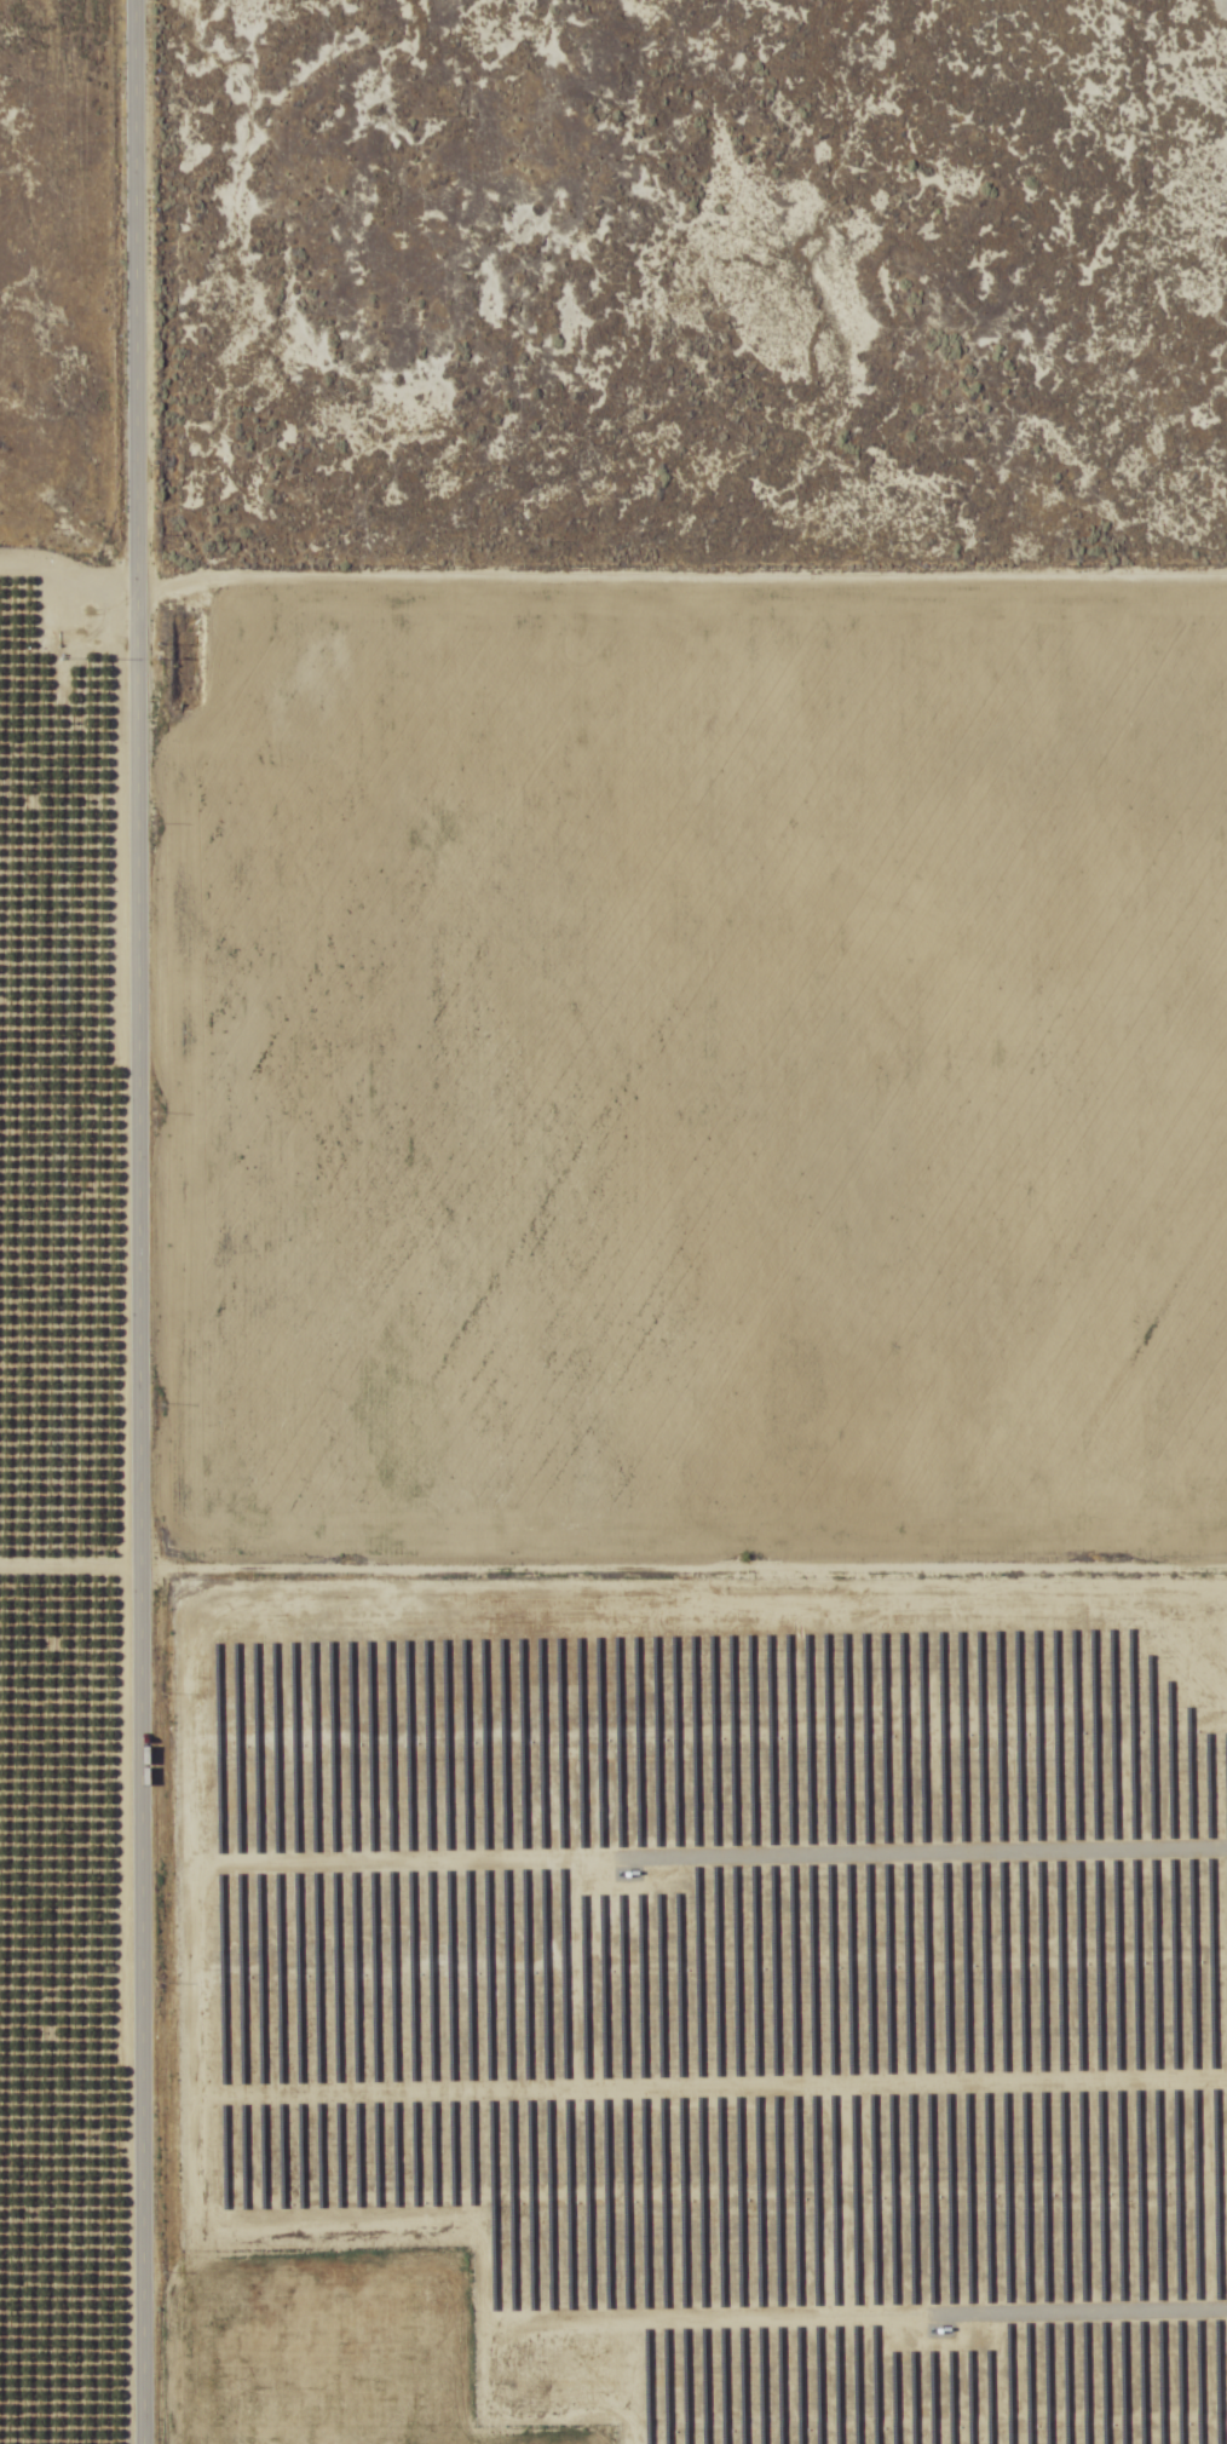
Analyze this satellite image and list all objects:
road: (69, 547)
road: (139, 1221)
road: (70, 1523)
solar farm: (713, 1984)

